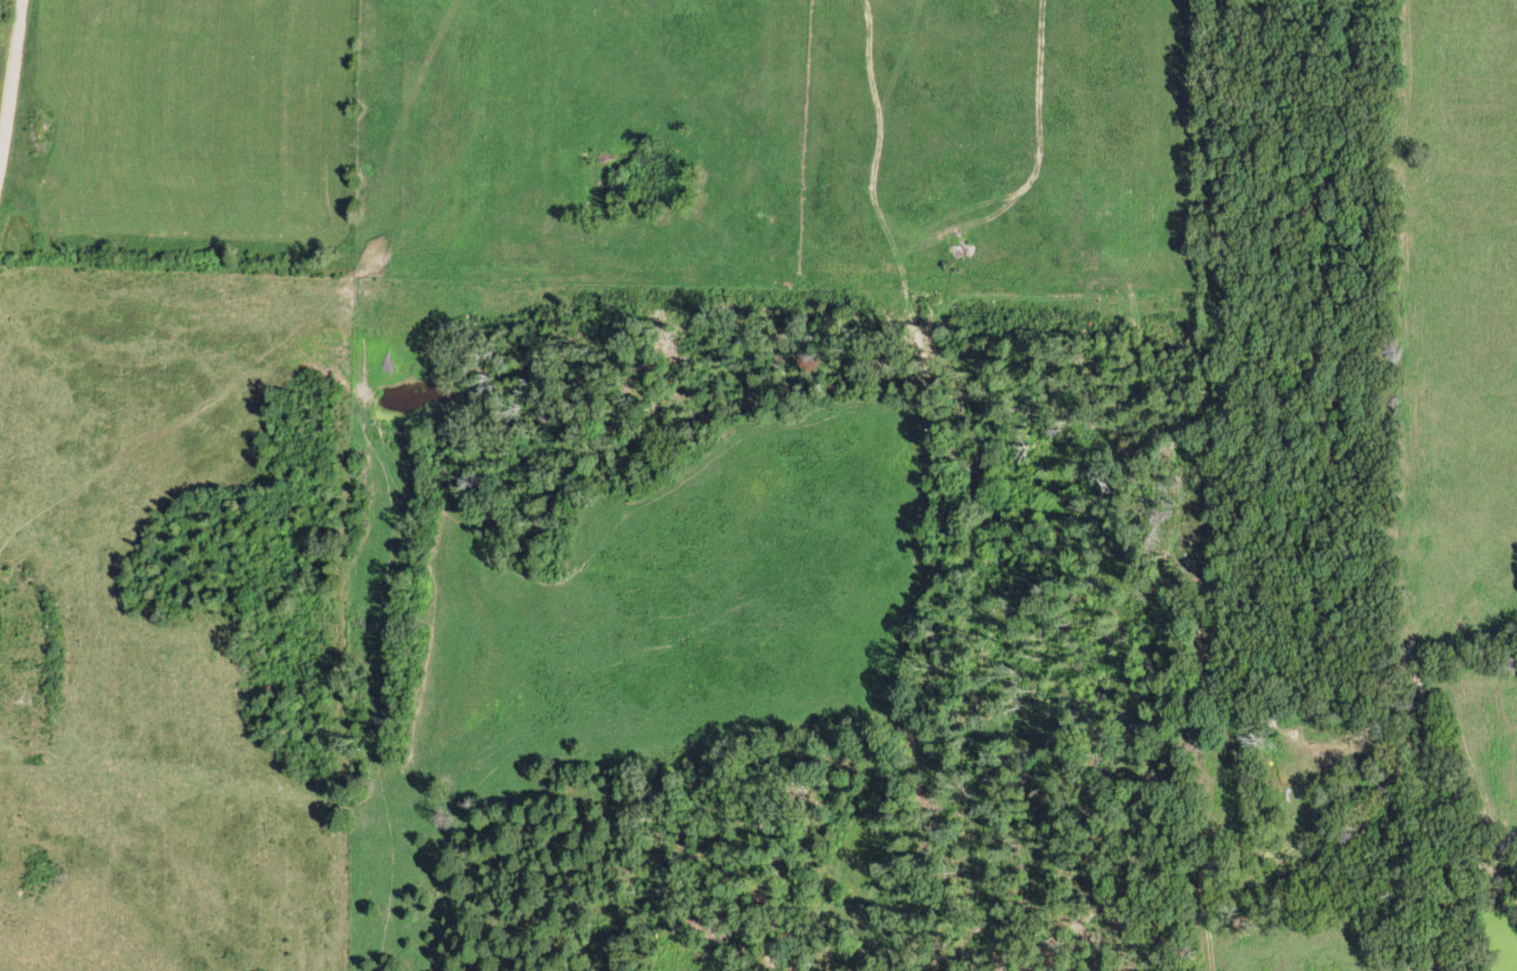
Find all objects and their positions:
road: (21, 77)

